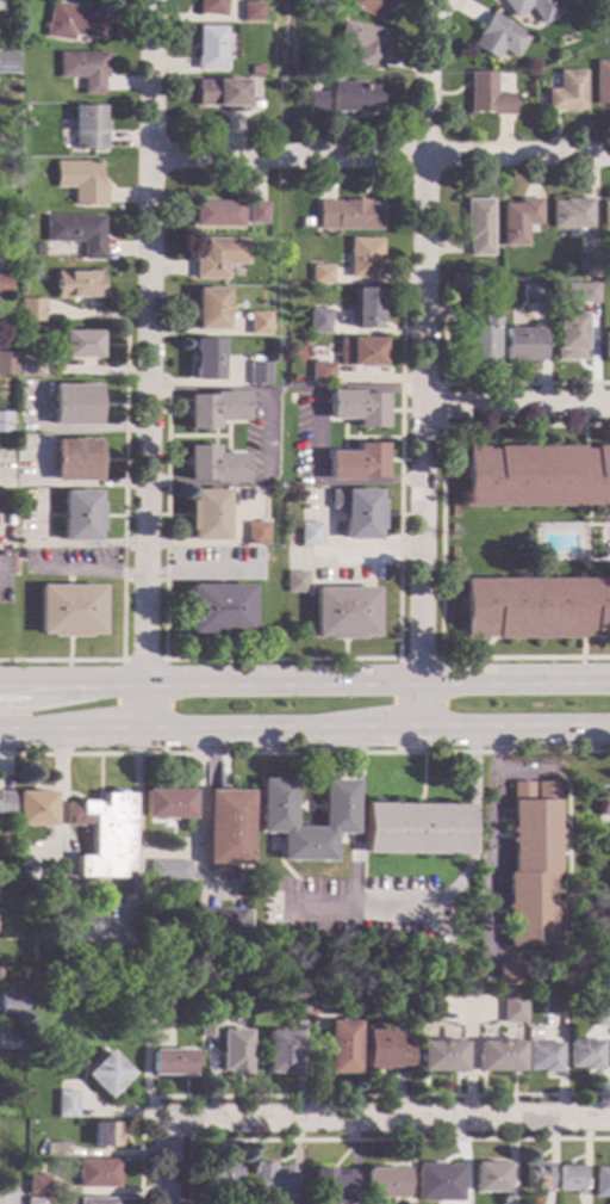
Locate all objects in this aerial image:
building: (232, 0)
building: (208, 7)
building: (369, 7)
building: (534, 7)
building: (249, 12)
building: (74, 21)
building: (498, 37)
building: (360, 43)
building: (208, 48)
building: (7, 62)
building: (83, 69)
building: (254, 70)
road: (423, 74)
road: (151, 76)
building: (602, 82)
building: (566, 92)
building: (219, 93)
building: (487, 95)
building: (350, 97)
building: (313, 103)
building: (251, 105)
building: (87, 128)
road: (380, 153)
building: (80, 181)
building: (255, 212)
building: (216, 214)
building: (571, 214)
building: (346, 215)
building: (605, 216)
building: (518, 221)
building: (478, 227)
building: (77, 233)
building: (38, 249)
building: (216, 257)
building: (361, 257)
building: (7, 259)
building: (586, 265)
building: (319, 273)
building: (491, 273)
road: (374, 279)
building: (4, 284)
building: (77, 284)
building: (581, 290)
building: (530, 294)
building: (365, 308)
building: (31, 309)
building: (207, 309)
road: (95, 311)
road: (441, 313)
building: (317, 320)
building: (255, 323)
building: (477, 334)
building: (568, 335)
building: (80, 344)
building: (519, 344)
building: (605, 345)
building: (357, 352)
building: (203, 358)
building: (6, 363)
building: (29, 365)
building: (255, 372)
building: (319, 372)
road: (474, 381)
road: (248, 388)
building: (290, 397)
road: (515, 401)
road: (442, 402)
building: (73, 405)
building: (354, 407)
building: (212, 408)
building: (5, 421)
road: (419, 442)
road: (148, 443)
building: (75, 459)
building: (355, 463)
building: (211, 464)
building: (536, 476)
building: (356, 513)
building: (205, 514)
building: (80, 515)
road: (590, 523)
building: (254, 532)
parking lot: (608, 532)
building: (309, 533)
road: (440, 542)
road: (123, 545)
road: (347, 548)
building: (259, 549)
road: (605, 550)
building: (21, 554)
road: (87, 569)
road: (199, 569)
road: (585, 572)
building: (295, 582)
building: (535, 607)
building: (69, 610)
building: (218, 610)
building: (343, 612)
road: (334, 656)
road: (417, 656)
road: (164, 684)
road: (304, 687)
road: (304, 733)
road: (305, 752)
road: (422, 778)
road: (524, 778)
building: (5, 803)
building: (167, 804)
building: (275, 804)
building: (604, 804)
building: (33, 808)
road: (355, 820)
building: (226, 828)
building: (417, 829)
building: (104, 836)
road: (490, 844)
road: (164, 856)
building: (531, 865)
building: (168, 872)
road: (562, 890)
road: (448, 894)
building: (69, 895)
building: (467, 902)
parking lot: (367, 909)
building: (220, 922)
building: (269, 962)
building: (508, 974)
building: (552, 999)
building: (12, 1004)
building: (290, 1005)
building: (319, 1005)
building: (427, 1007)
building: (151, 1008)
building: (511, 1008)
building: (598, 1017)
building: (205, 1026)
building: (7, 1042)
building: (20, 1044)
building: (340, 1048)
building: (386, 1051)
building: (231, 1052)
building: (278, 1052)
building: (584, 1055)
building: (440, 1056)
building: (497, 1056)
building: (609, 1056)
building: (542, 1057)
building: (169, 1063)
building: (105, 1074)
road: (326, 1097)
building: (63, 1105)
road: (390, 1119)
building: (104, 1135)
road: (367, 1140)
building: (52, 1150)
road: (167, 1162)
building: (97, 1173)
building: (536, 1177)
building: (218, 1178)
building: (487, 1178)
building: (569, 1179)
building: (267, 1181)
building: (436, 1183)
building: (600, 1183)
building: (380, 1184)
building: (37, 1185)
building: (329, 1185)
building: (1, 1188)
building: (35, 1200)
building: (95, 1200)

